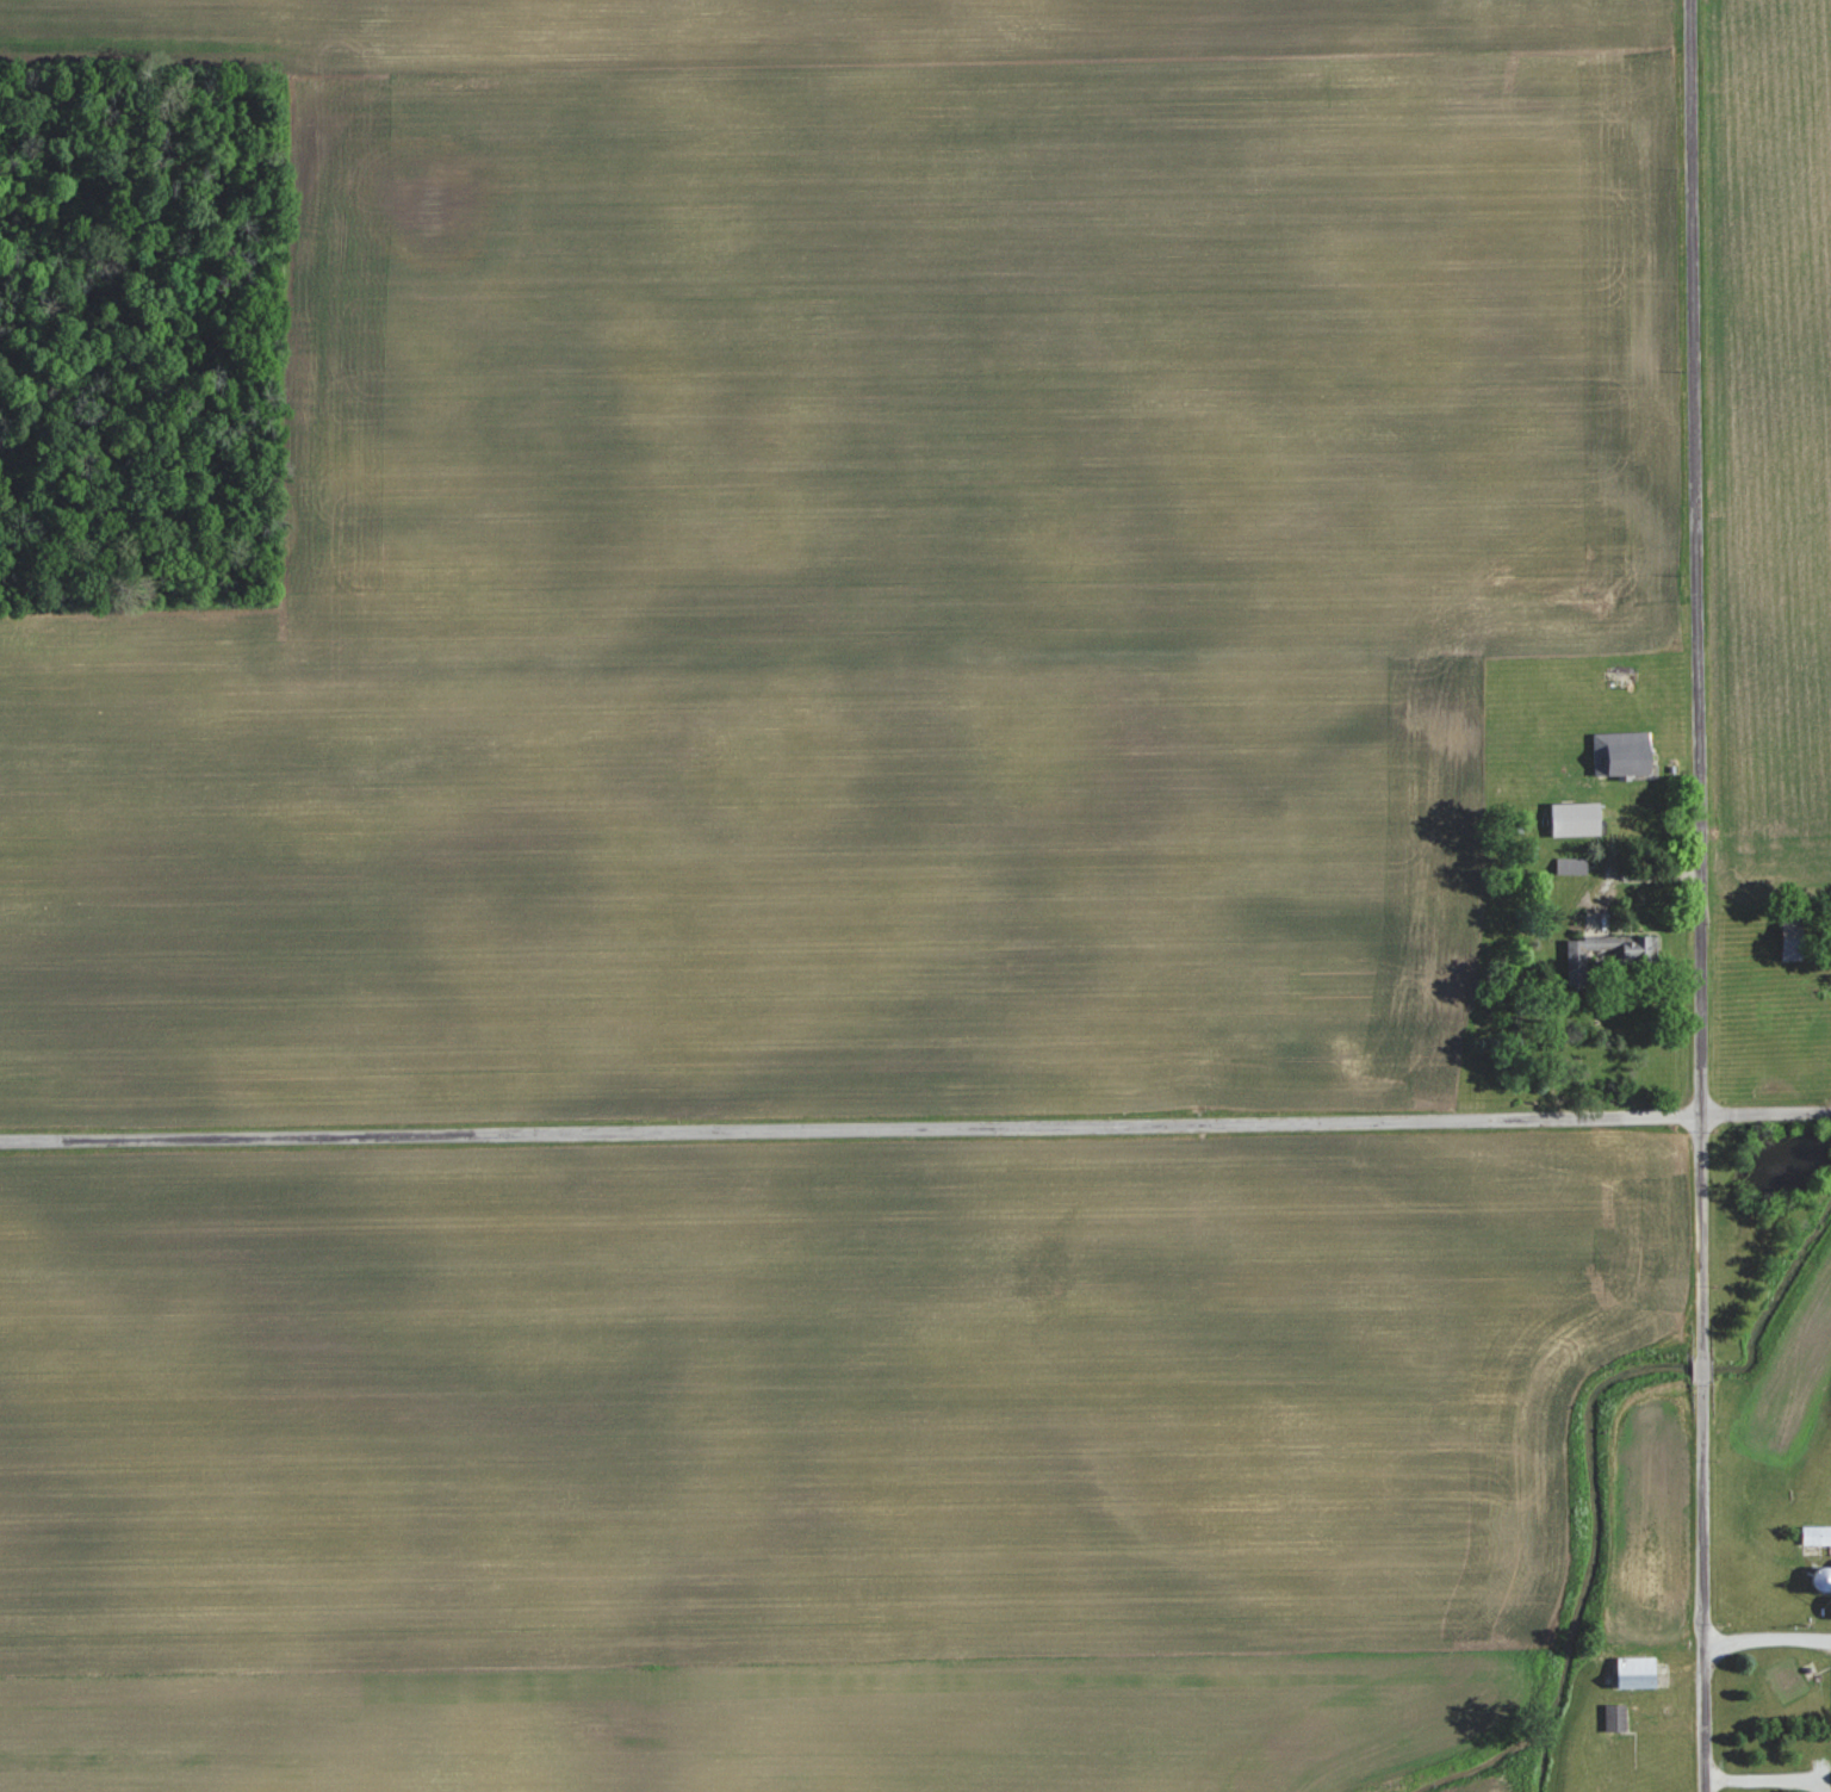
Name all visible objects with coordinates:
building: (1621, 681)
building: (1620, 754)
building: (1575, 819)
road: (1699, 895)
building: (1634, 956)
road: (915, 1123)
building: (1816, 1534)
building: (1821, 1580)
building: (1636, 1672)
building: (1614, 1720)

